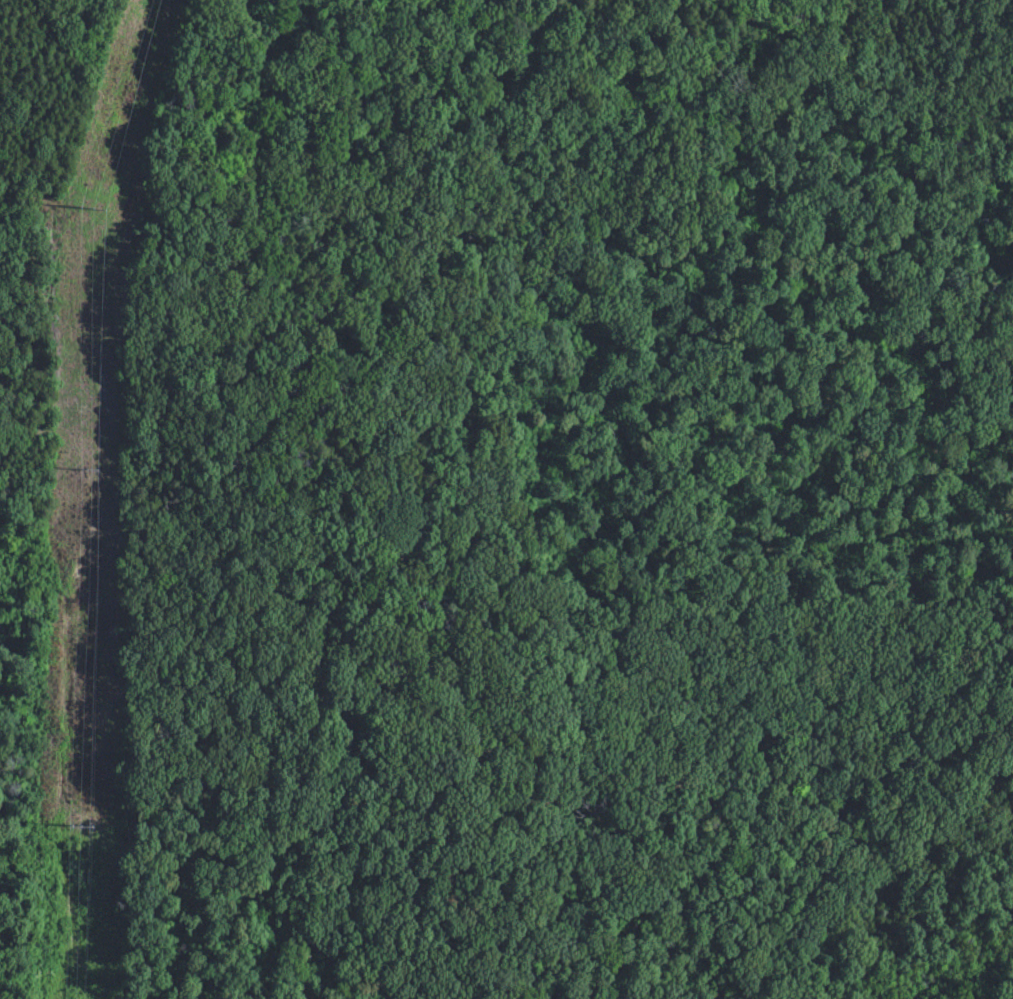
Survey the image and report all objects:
power tower: (85, 207)
power tower: (79, 468)
power tower: (69, 819)

